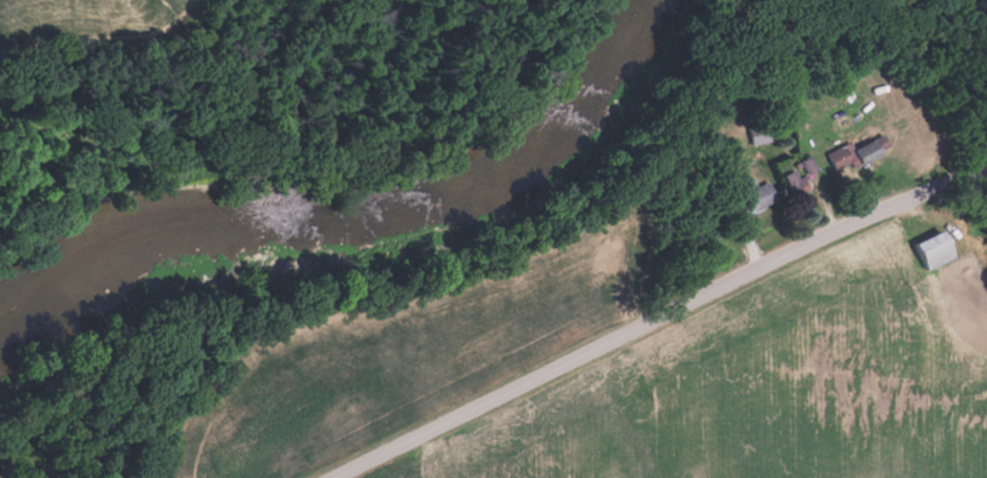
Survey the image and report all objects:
building: (860, 151)
building: (809, 165)
building: (796, 183)
building: (758, 193)
river: (369, 223)
building: (935, 248)
road: (665, 321)

